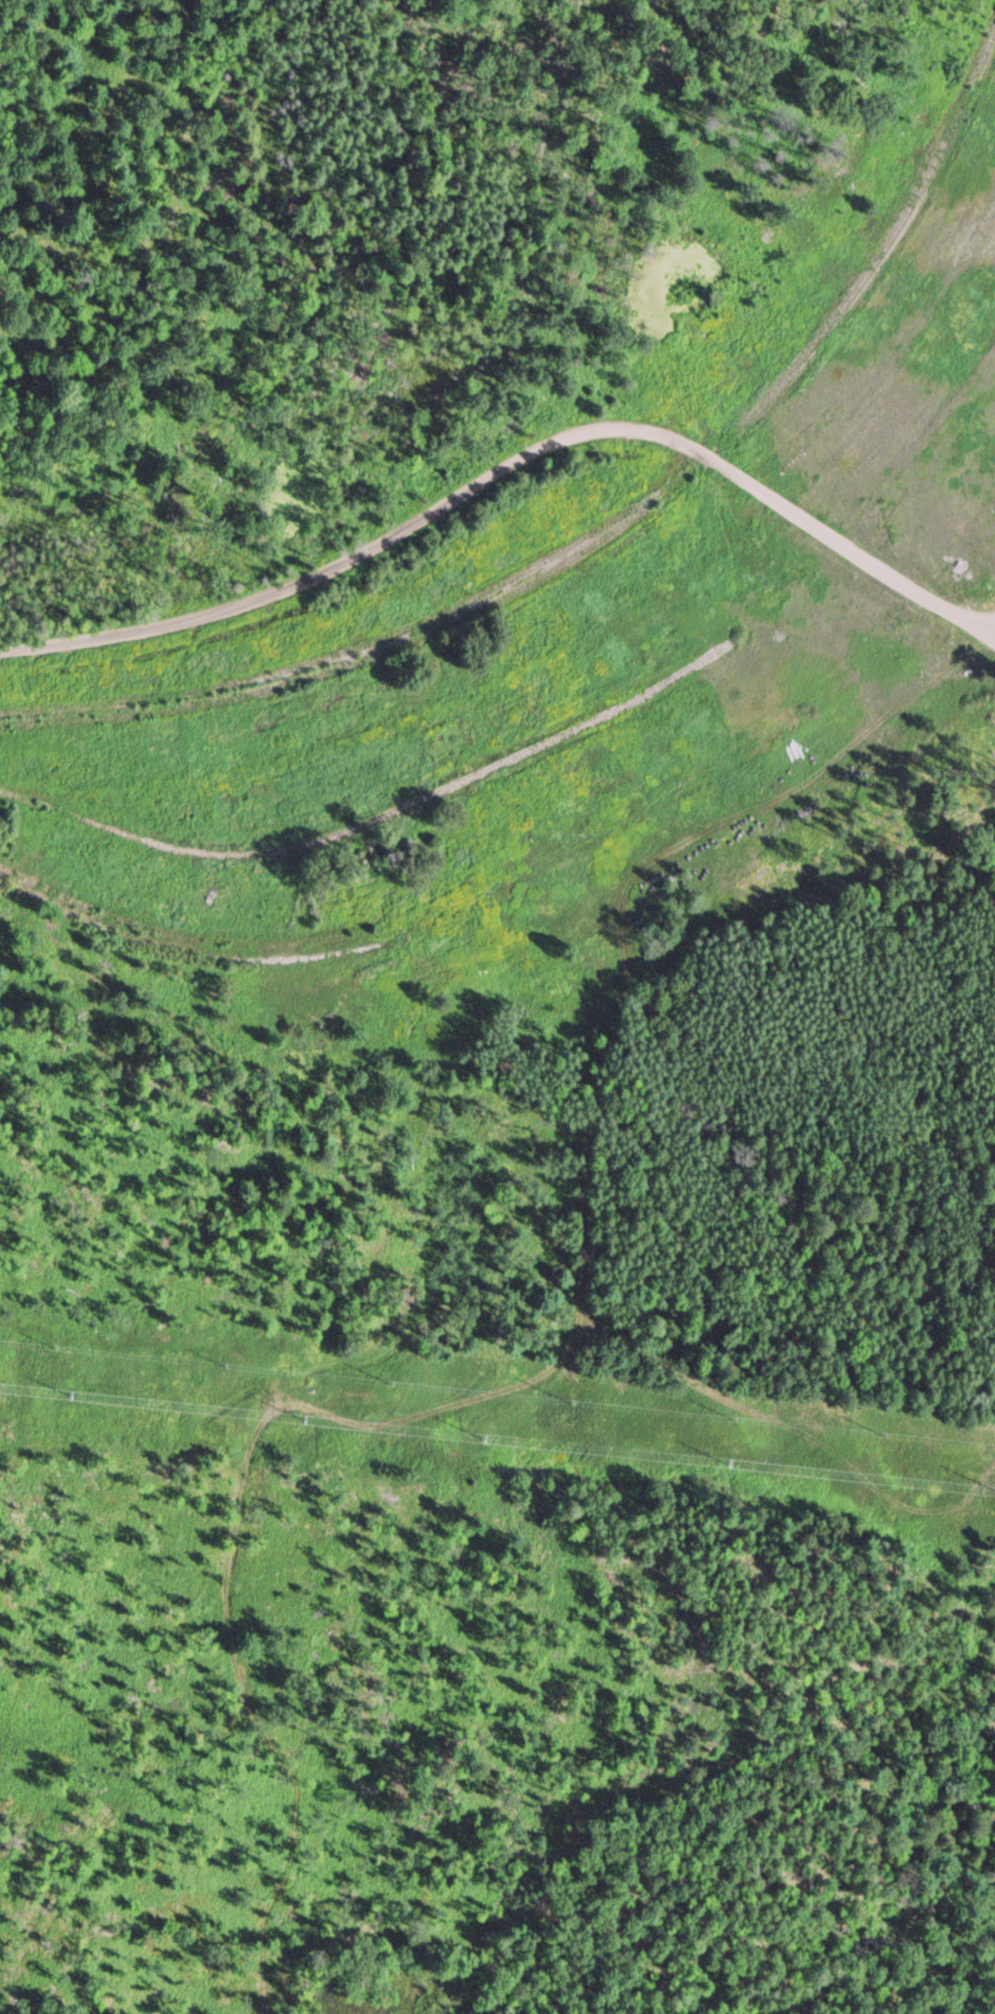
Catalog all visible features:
railway: (870, 268)
road: (512, 466)
railway: (361, 647)
railway: (365, 660)
railway: (375, 818)
railway: (184, 939)
railway: (187, 955)

